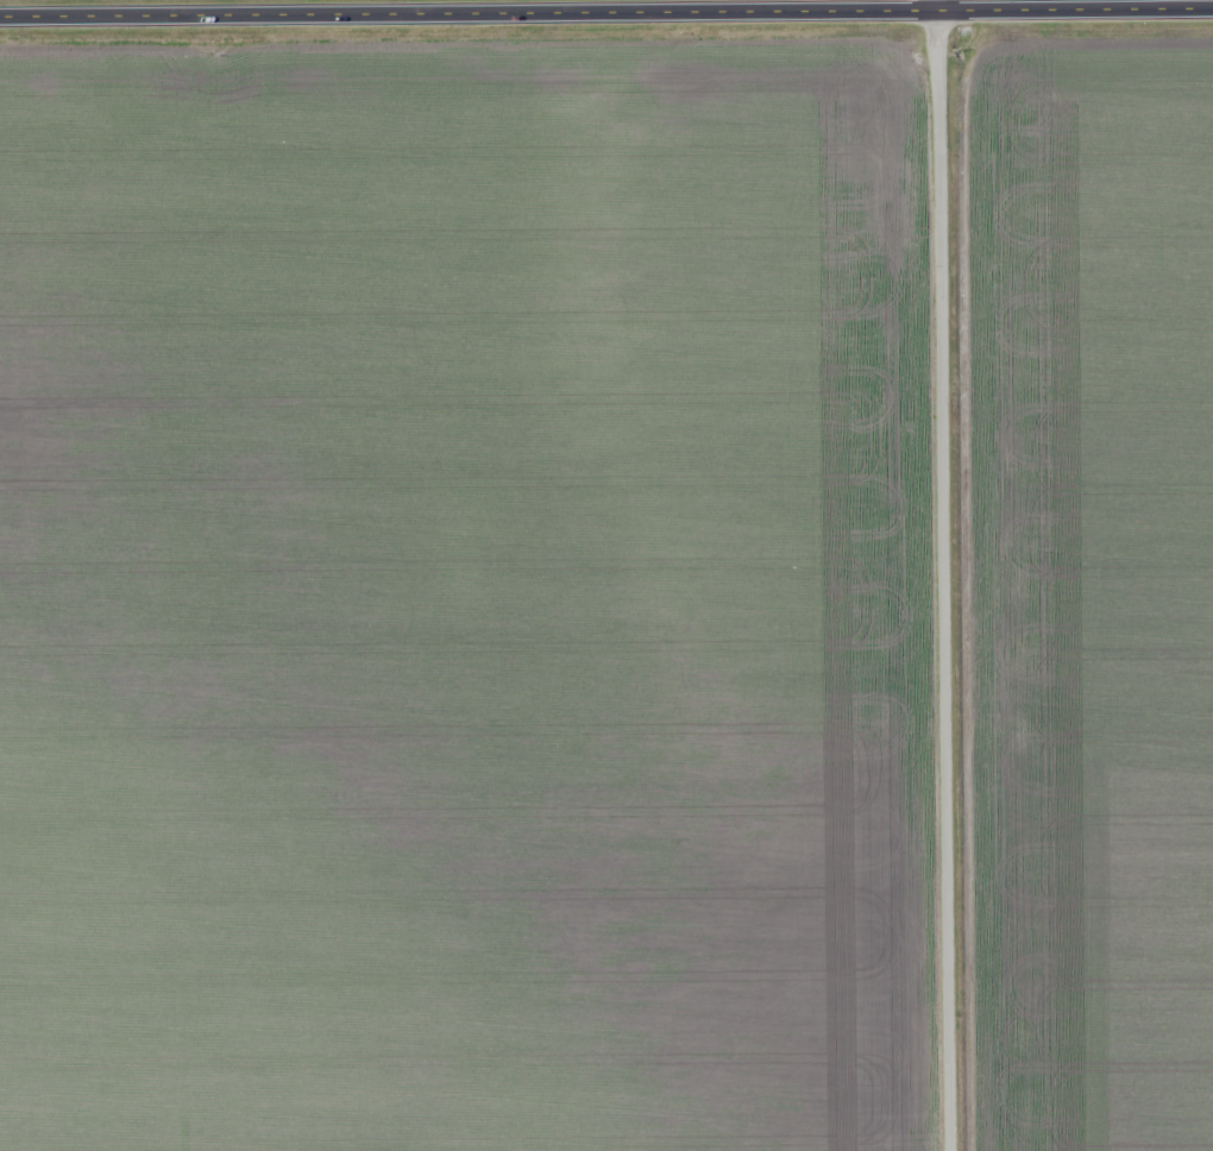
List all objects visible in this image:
road: (605, 8)
road: (935, 574)

